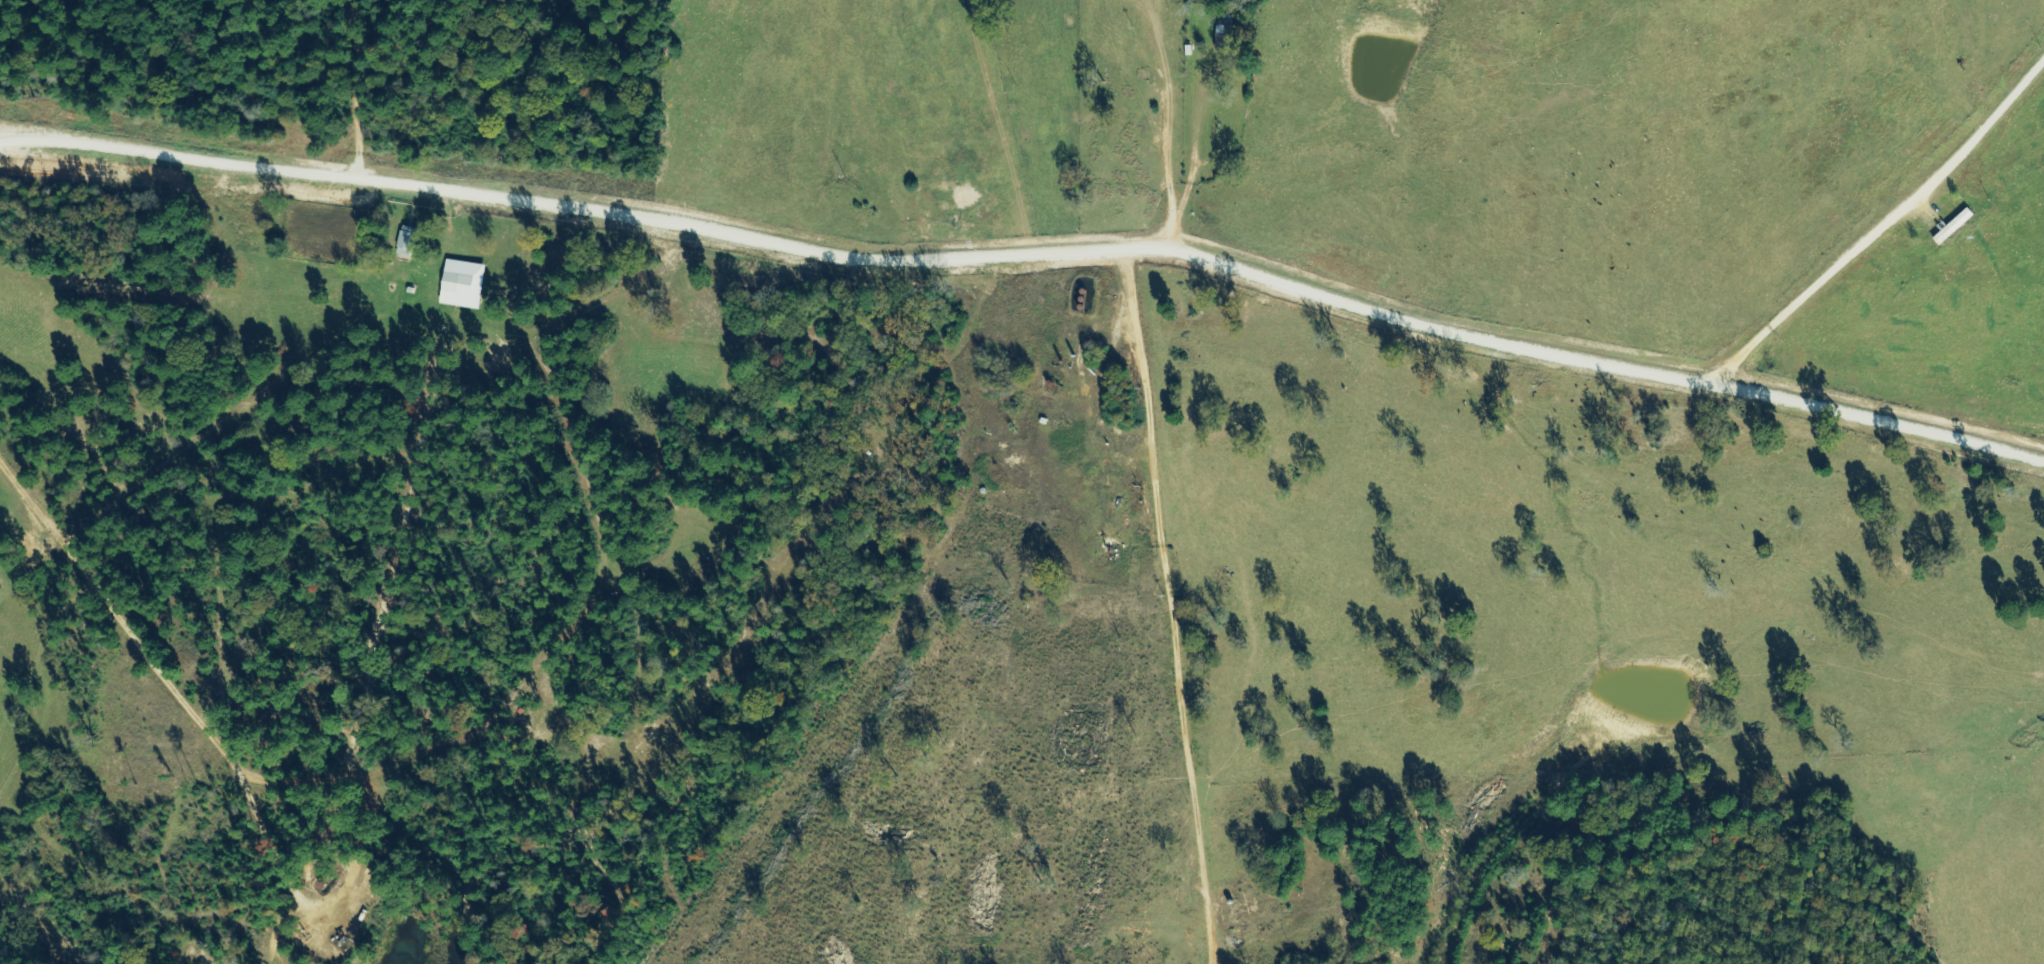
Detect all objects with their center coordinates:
building: (1225, 37)
road: (335, 95)
road: (1016, 129)
road: (1919, 236)
building: (406, 241)
road: (1995, 243)
road: (1025, 265)
building: (462, 284)
road: (212, 732)

